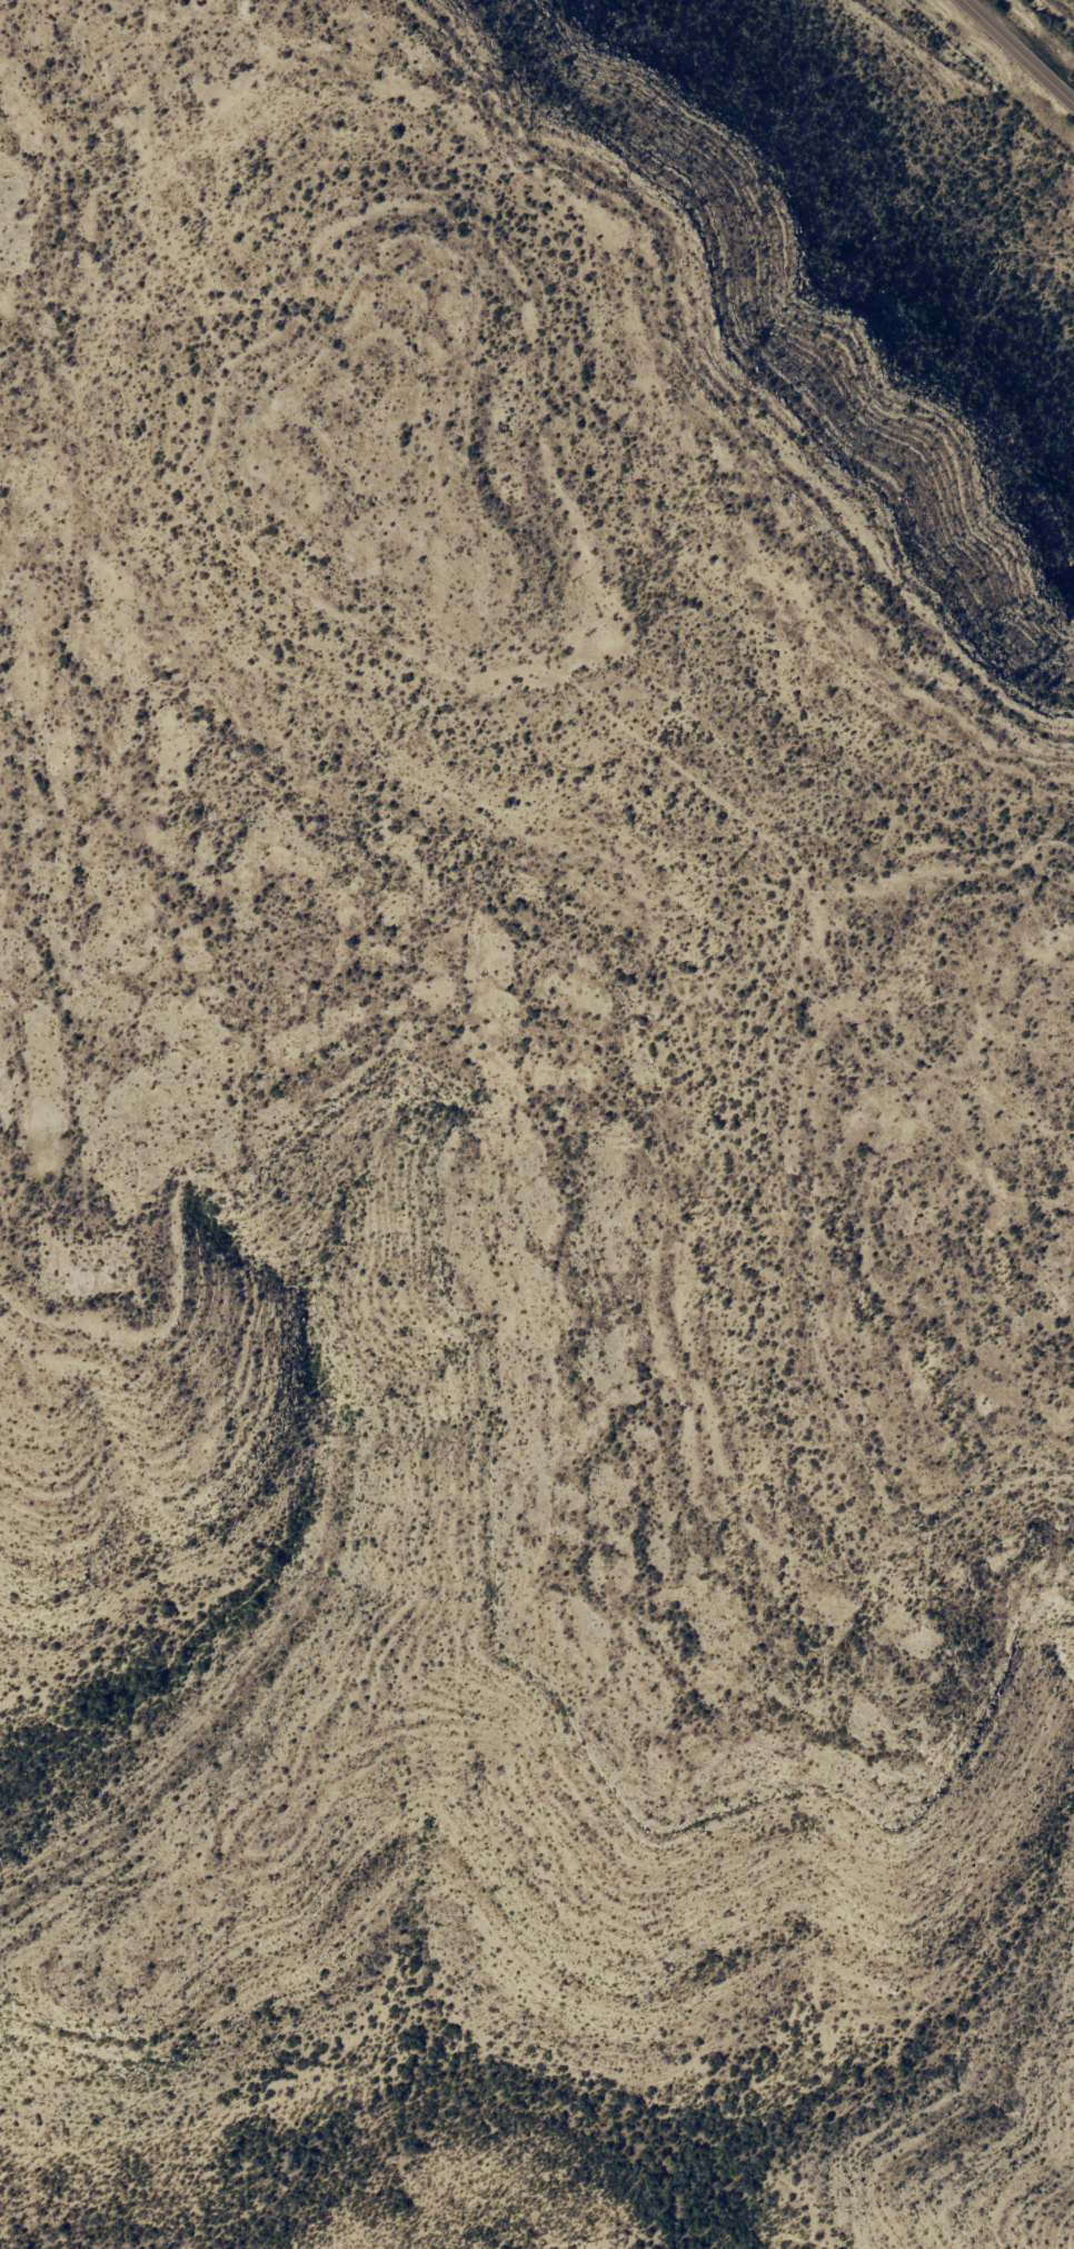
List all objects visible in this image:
road: (1021, 49)

